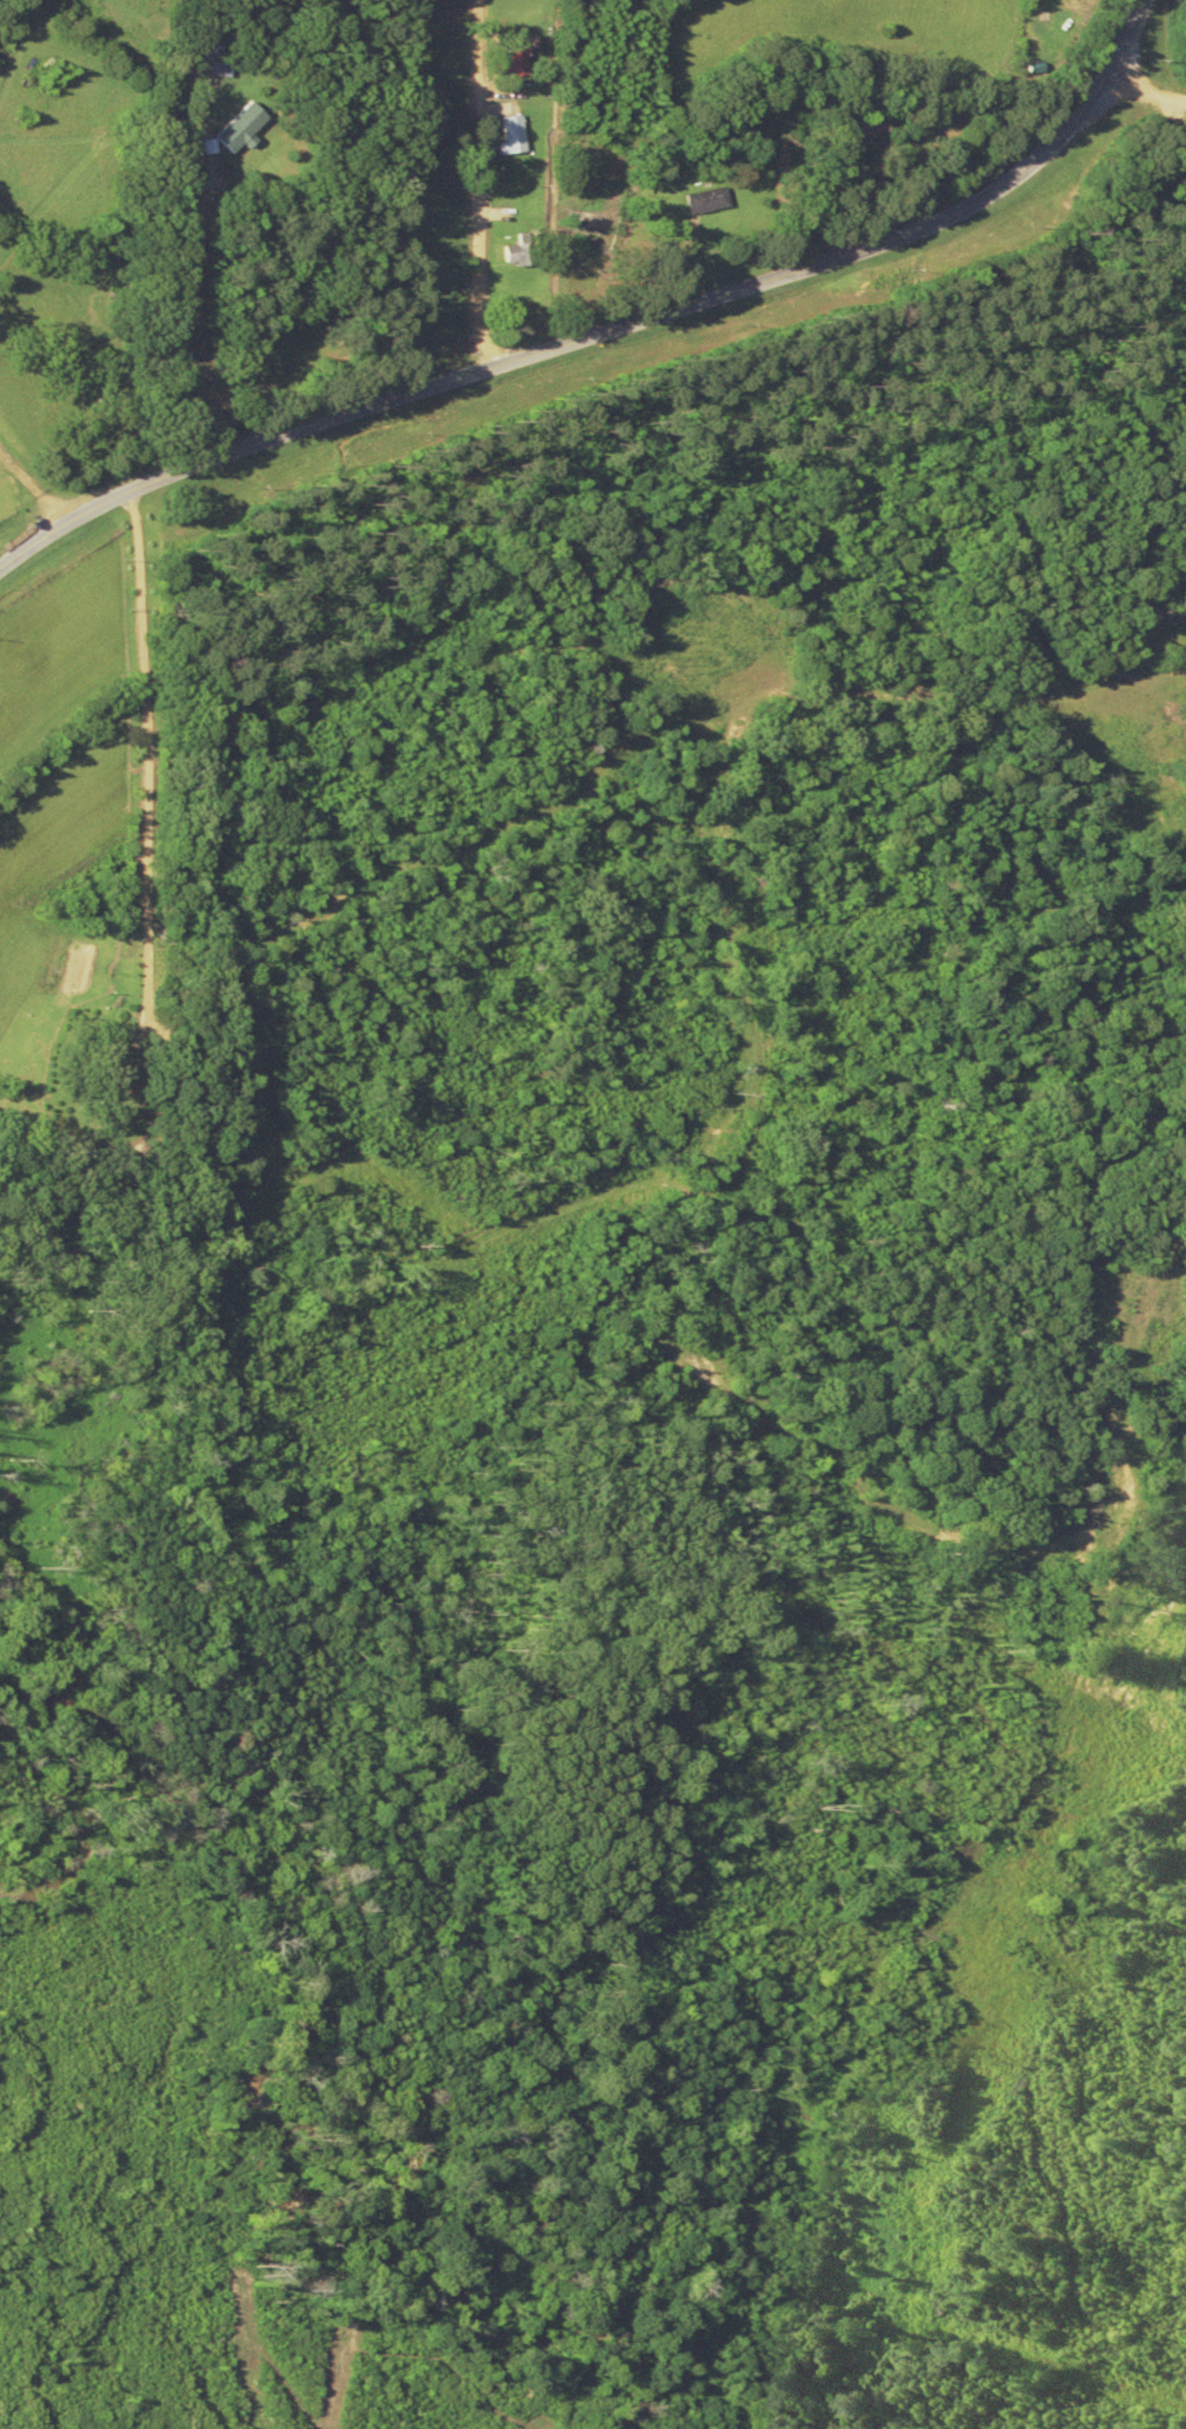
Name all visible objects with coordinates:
building: (1042, 30)
road: (1094, 34)
building: (224, 56)
building: (524, 58)
road: (1135, 67)
building: (865, 122)
building: (245, 125)
building: (523, 132)
building: (705, 199)
building: (594, 221)
building: (524, 251)
road: (552, 291)
building: (102, 1068)

